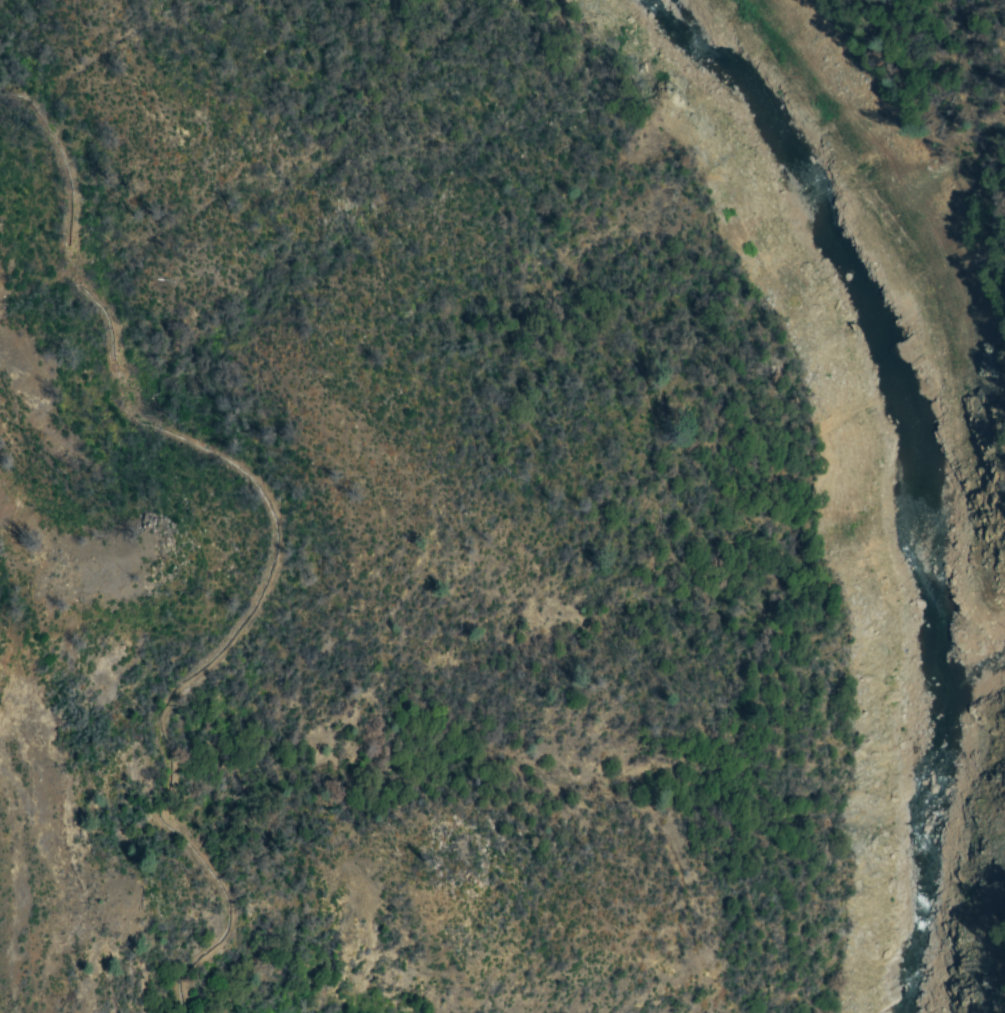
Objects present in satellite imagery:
river: (880, 307)
river: (922, 842)

